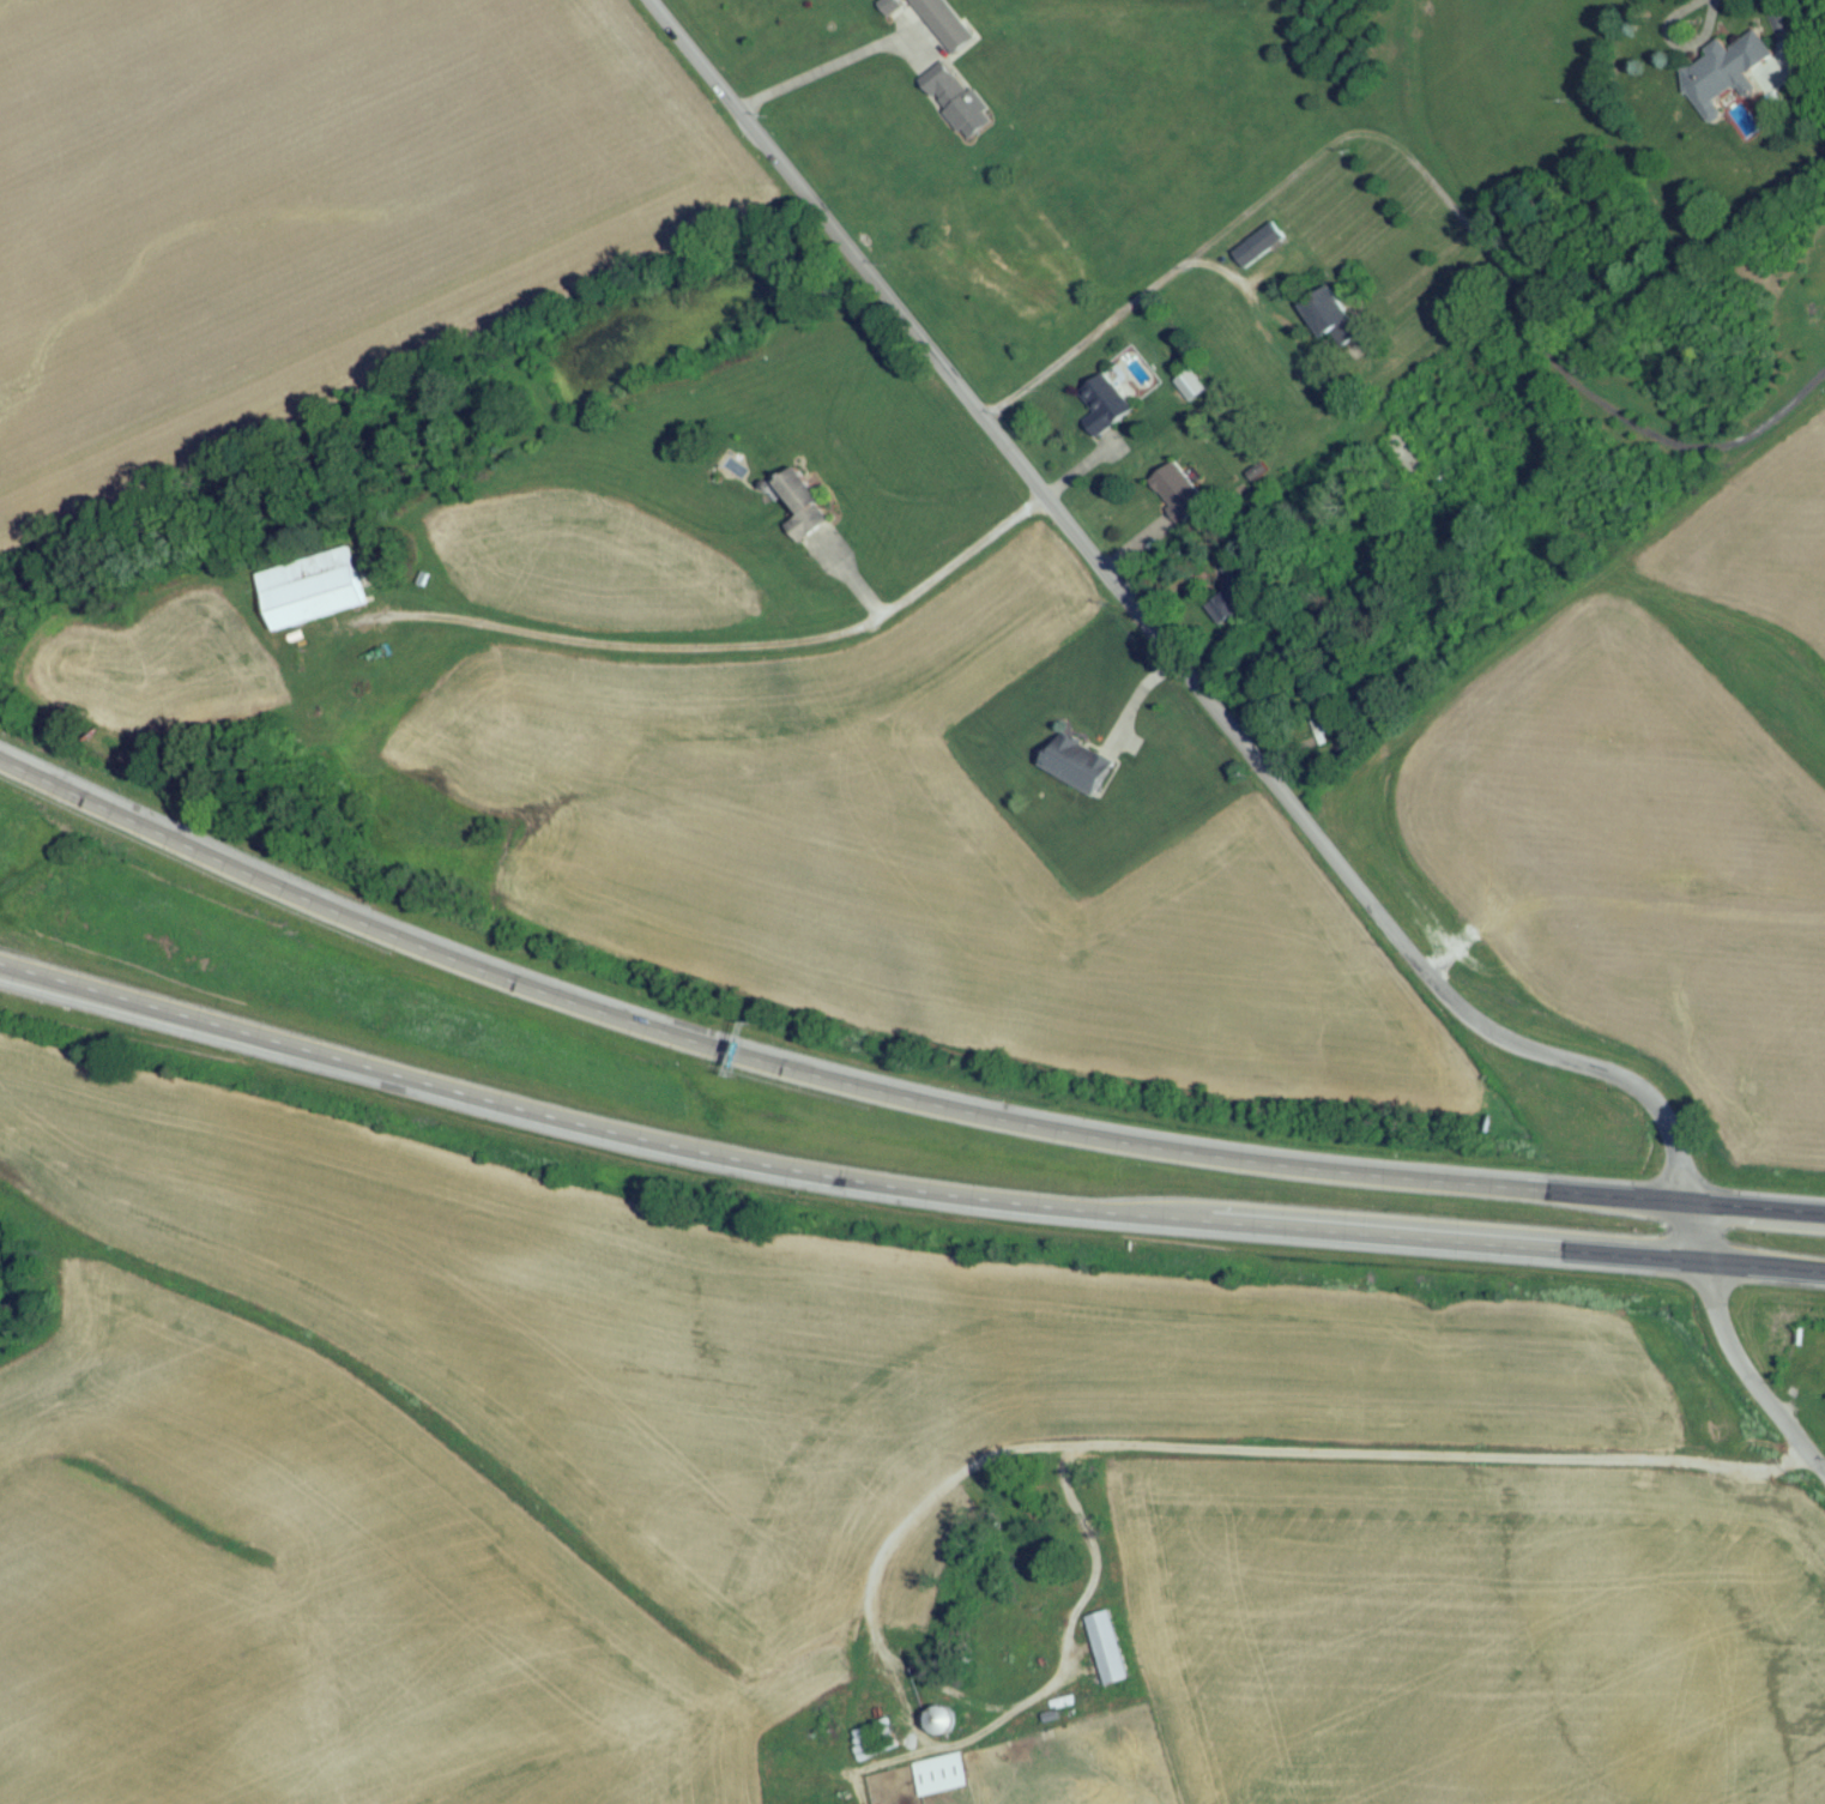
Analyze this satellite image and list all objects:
road: (1765, 10)
road: (1673, 50)
road: (1787, 59)
road: (833, 68)
building: (1722, 80)
building: (954, 108)
building: (1258, 252)
road: (1503, 267)
road: (1117, 312)
building: (1329, 322)
building: (1189, 392)
building: (1102, 411)
road: (1088, 460)
building: (1402, 460)
building: (1176, 499)
building: (799, 512)
road: (1135, 549)
road: (847, 579)
building: (309, 596)
building: (1231, 607)
road: (708, 648)
road: (1170, 658)
road: (1136, 700)
building: (1323, 723)
building: (1076, 773)
road: (1608, 901)
road: (816, 1079)
road: (836, 1184)
road: (1753, 1211)
road: (1761, 1268)
road: (1745, 1381)
road: (1457, 1458)
building: (1106, 1654)
road: (929, 1687)
road: (918, 1744)
building: (938, 1781)

